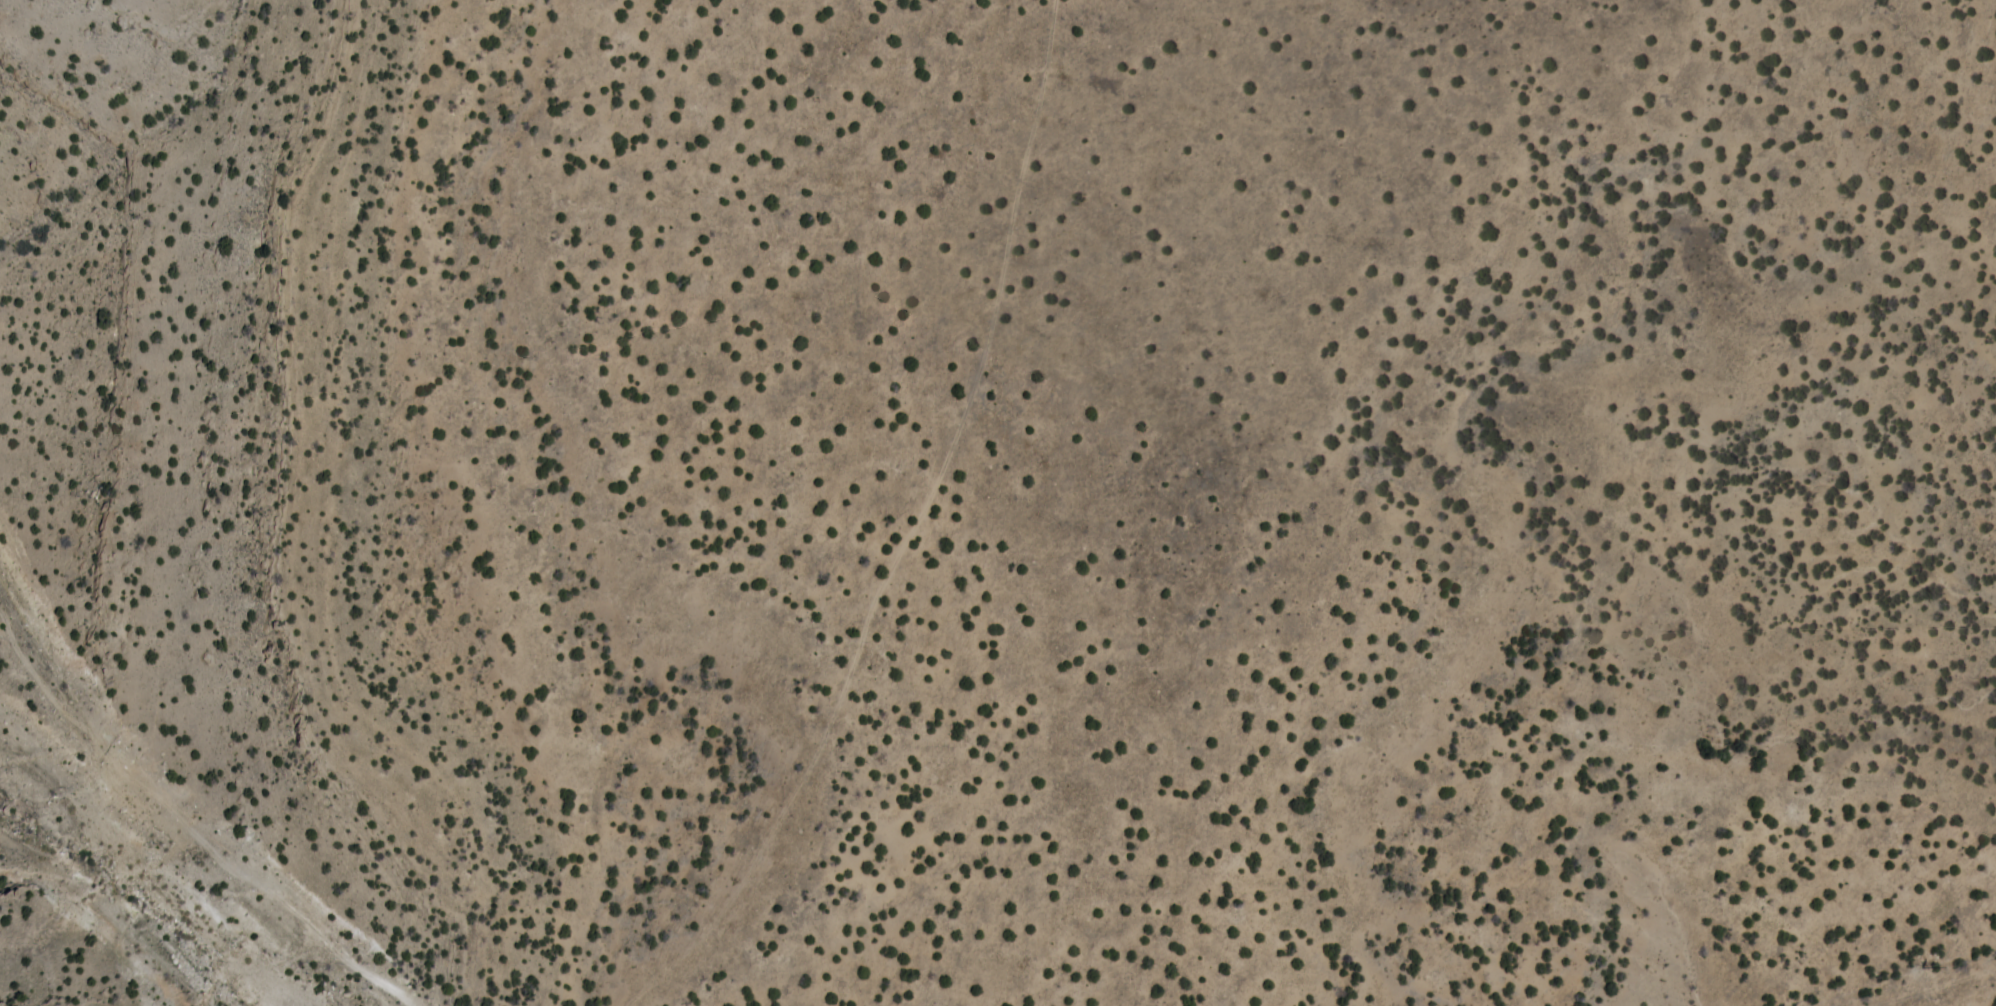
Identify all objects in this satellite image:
road: (80, 806)

